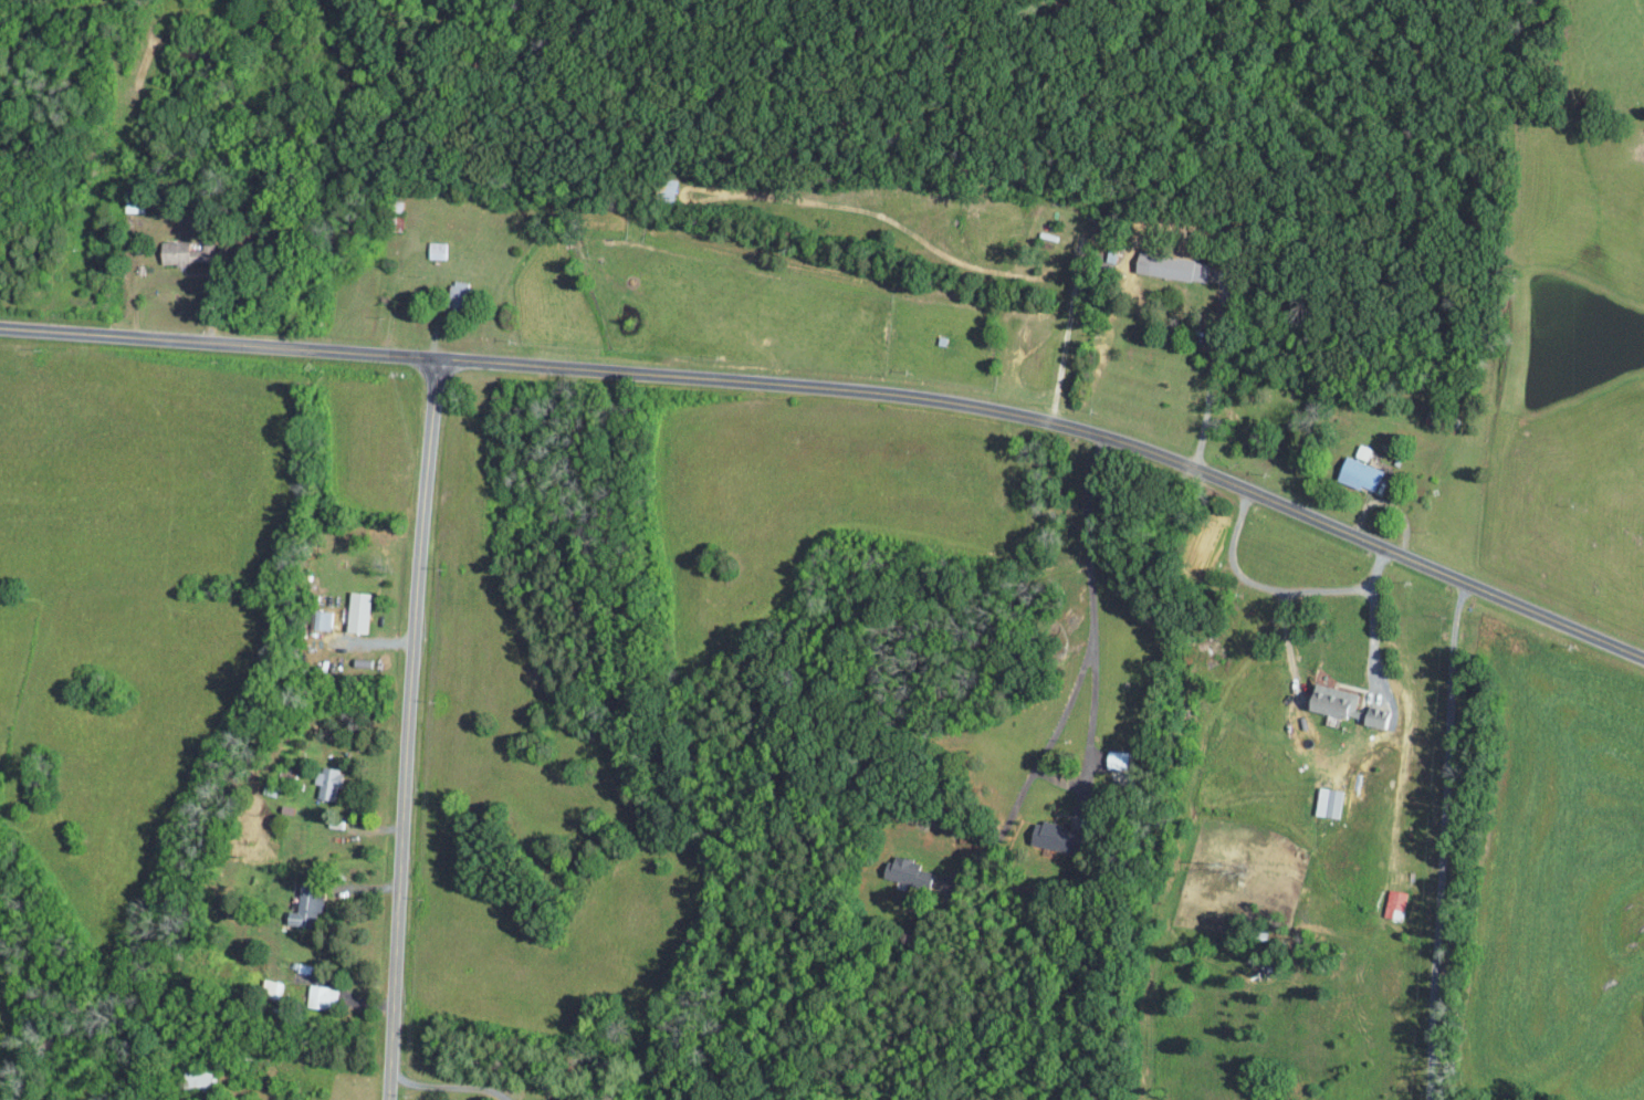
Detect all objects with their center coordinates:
building: (434, 249)
building: (172, 251)
building: (1163, 265)
building: (454, 289)
road: (1212, 369)
road: (846, 388)
building: (1359, 473)
road: (1274, 588)
building: (356, 611)
building: (320, 619)
road: (1373, 631)
road: (381, 641)
road: (1093, 700)
building: (1329, 701)
building: (1373, 717)
road: (412, 733)
building: (1113, 758)
building: (325, 781)
building: (1330, 803)
building: (1043, 832)
road: (1442, 844)
building: (902, 871)
building: (301, 907)
building: (269, 986)
building: (318, 996)
road: (448, 1085)

